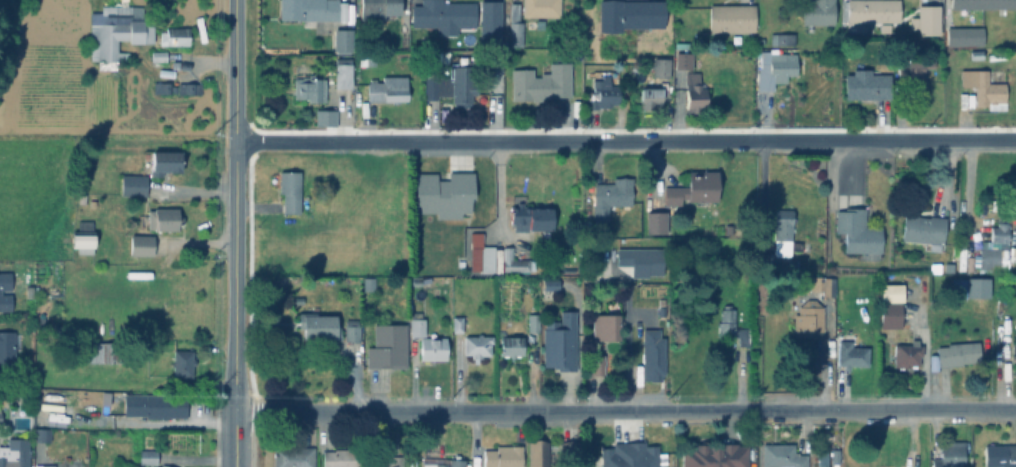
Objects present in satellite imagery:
building: (983, 4)
building: (381, 8)
building: (543, 8)
building: (311, 10)
building: (820, 12)
building: (633, 14)
building: (871, 14)
building: (446, 15)
building: (734, 17)
building: (931, 19)
building: (493, 24)
building: (517, 26)
building: (117, 36)
building: (176, 36)
building: (967, 36)
building: (784, 38)
building: (344, 41)
building: (684, 45)
building: (980, 54)
building: (160, 55)
building: (1000, 56)
building: (690, 60)
building: (663, 67)
building: (776, 68)
building: (915, 68)
building: (345, 73)
building: (545, 82)
building: (455, 83)
building: (871, 85)
building: (170, 88)
building: (190, 88)
building: (311, 88)
building: (390, 89)
building: (987, 89)
building: (654, 92)
building: (607, 93)
building: (696, 94)
building: (327, 117)
road: (624, 141)
building: (163, 160)
building: (135, 185)
building: (697, 188)
building: (291, 190)
building: (446, 194)
building: (613, 197)
road: (499, 199)
road: (233, 206)
building: (531, 215)
building: (162, 219)
building: (659, 222)
building: (719, 229)
building: (860, 230)
building: (928, 230)
building: (85, 237)
building: (143, 244)
building: (782, 244)
building: (994, 249)
building: (483, 253)
building: (513, 260)
building: (644, 260)
building: (971, 263)
building: (952, 267)
building: (371, 283)
building: (553, 284)
building: (826, 285)
building: (982, 286)
building: (962, 287)
building: (1, 289)
building: (30, 292)
building: (894, 306)
building: (811, 319)
building: (535, 322)
building: (419, 324)
building: (460, 324)
building: (609, 324)
building: (732, 324)
building: (321, 325)
building: (353, 330)
building: (563, 342)
building: (388, 345)
building: (480, 345)
building: (514, 345)
building: (435, 347)
building: (8, 351)
building: (105, 351)
building: (359, 351)
road: (627, 352)
building: (910, 354)
building: (962, 354)
building: (656, 355)
building: (854, 355)
building: (1013, 357)
building: (936, 362)
building: (184, 363)
building: (599, 364)
building: (150, 408)
road: (624, 412)
building: (143, 422)
building: (43, 435)
road: (233, 440)
building: (573, 450)
building: (540, 453)
building: (634, 455)
building: (717, 455)
building: (952, 455)
building: (999, 455)
building: (149, 456)
building: (506, 456)
building: (785, 456)
building: (14, 457)
building: (295, 457)
building: (819, 457)
building: (343, 458)
building: (826, 458)
building: (458, 460)
building: (395, 461)
building: (45, 466)
building: (888, 466)

